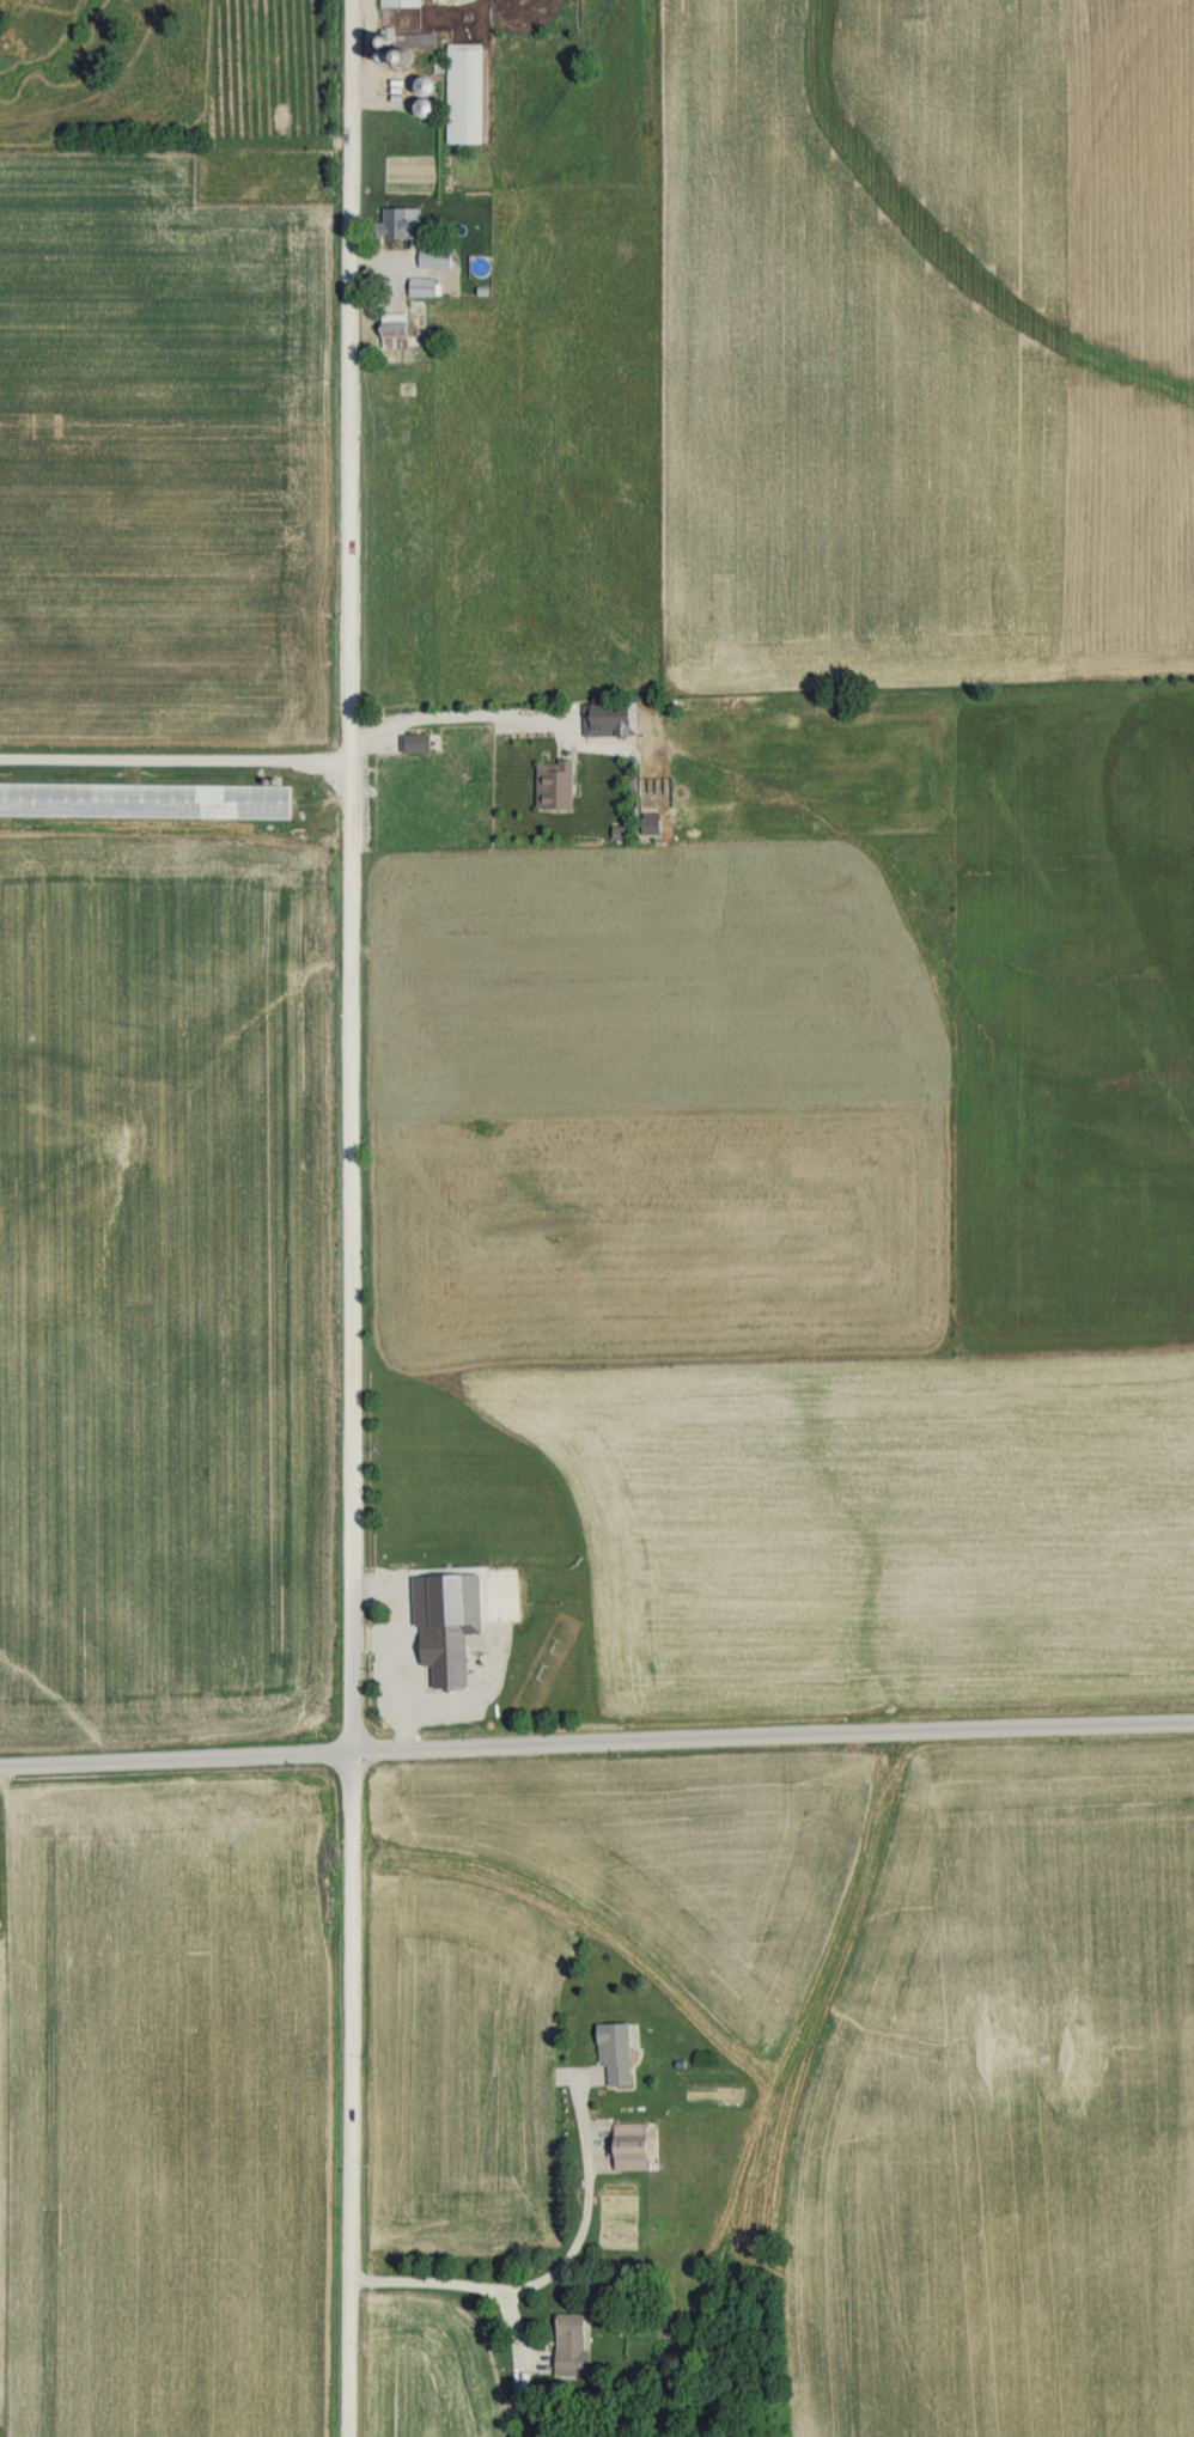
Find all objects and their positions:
building: (403, 4)
building: (468, 93)
building: (403, 223)
building: (438, 257)
building: (425, 286)
building: (398, 330)
road: (451, 717)
road: (172, 756)
building: (147, 800)
road: (346, 1218)
building: (449, 1658)
road: (596, 1745)
building: (620, 2052)
building: (635, 2146)
road: (593, 2213)
road: (459, 2286)
building: (575, 2344)

